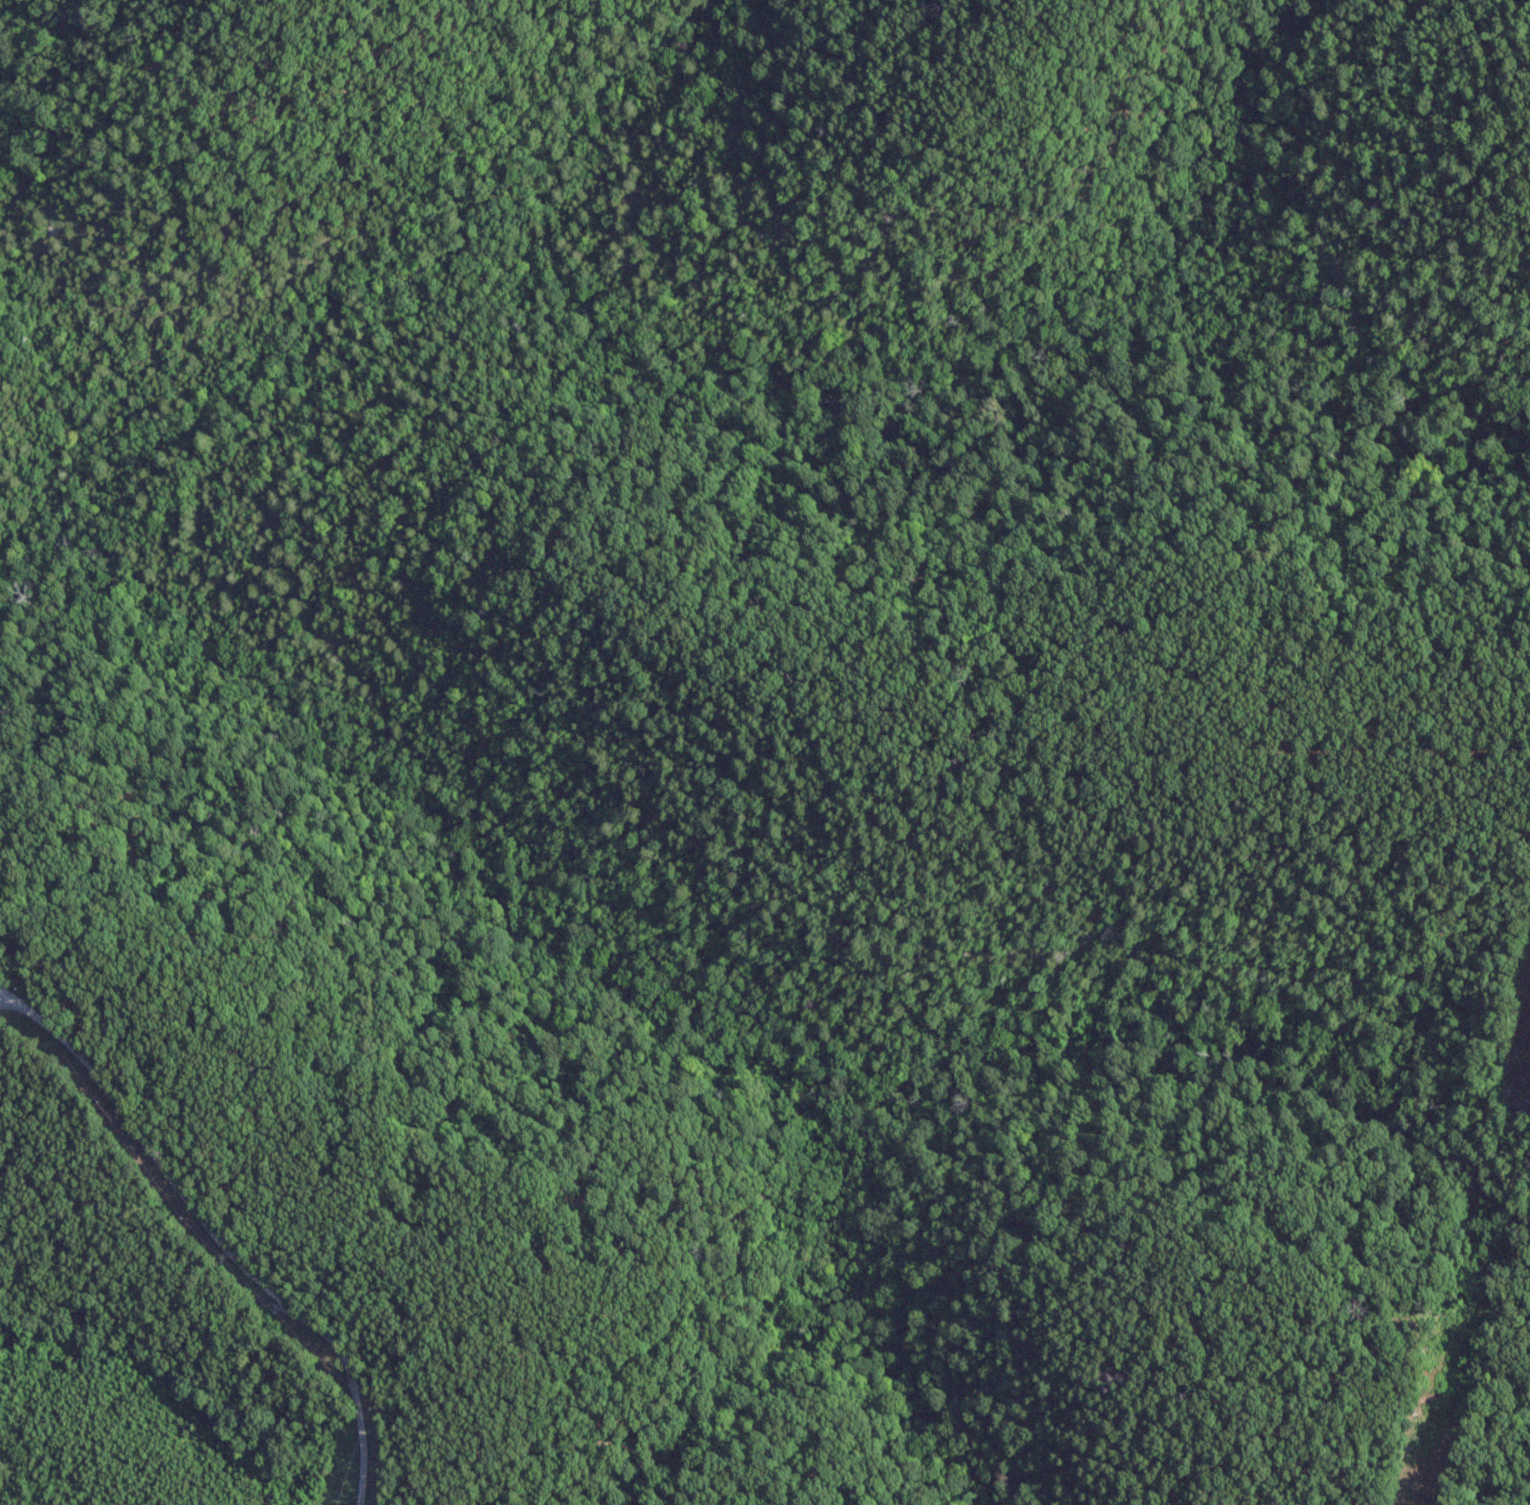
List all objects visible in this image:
road: (218, 1237)

